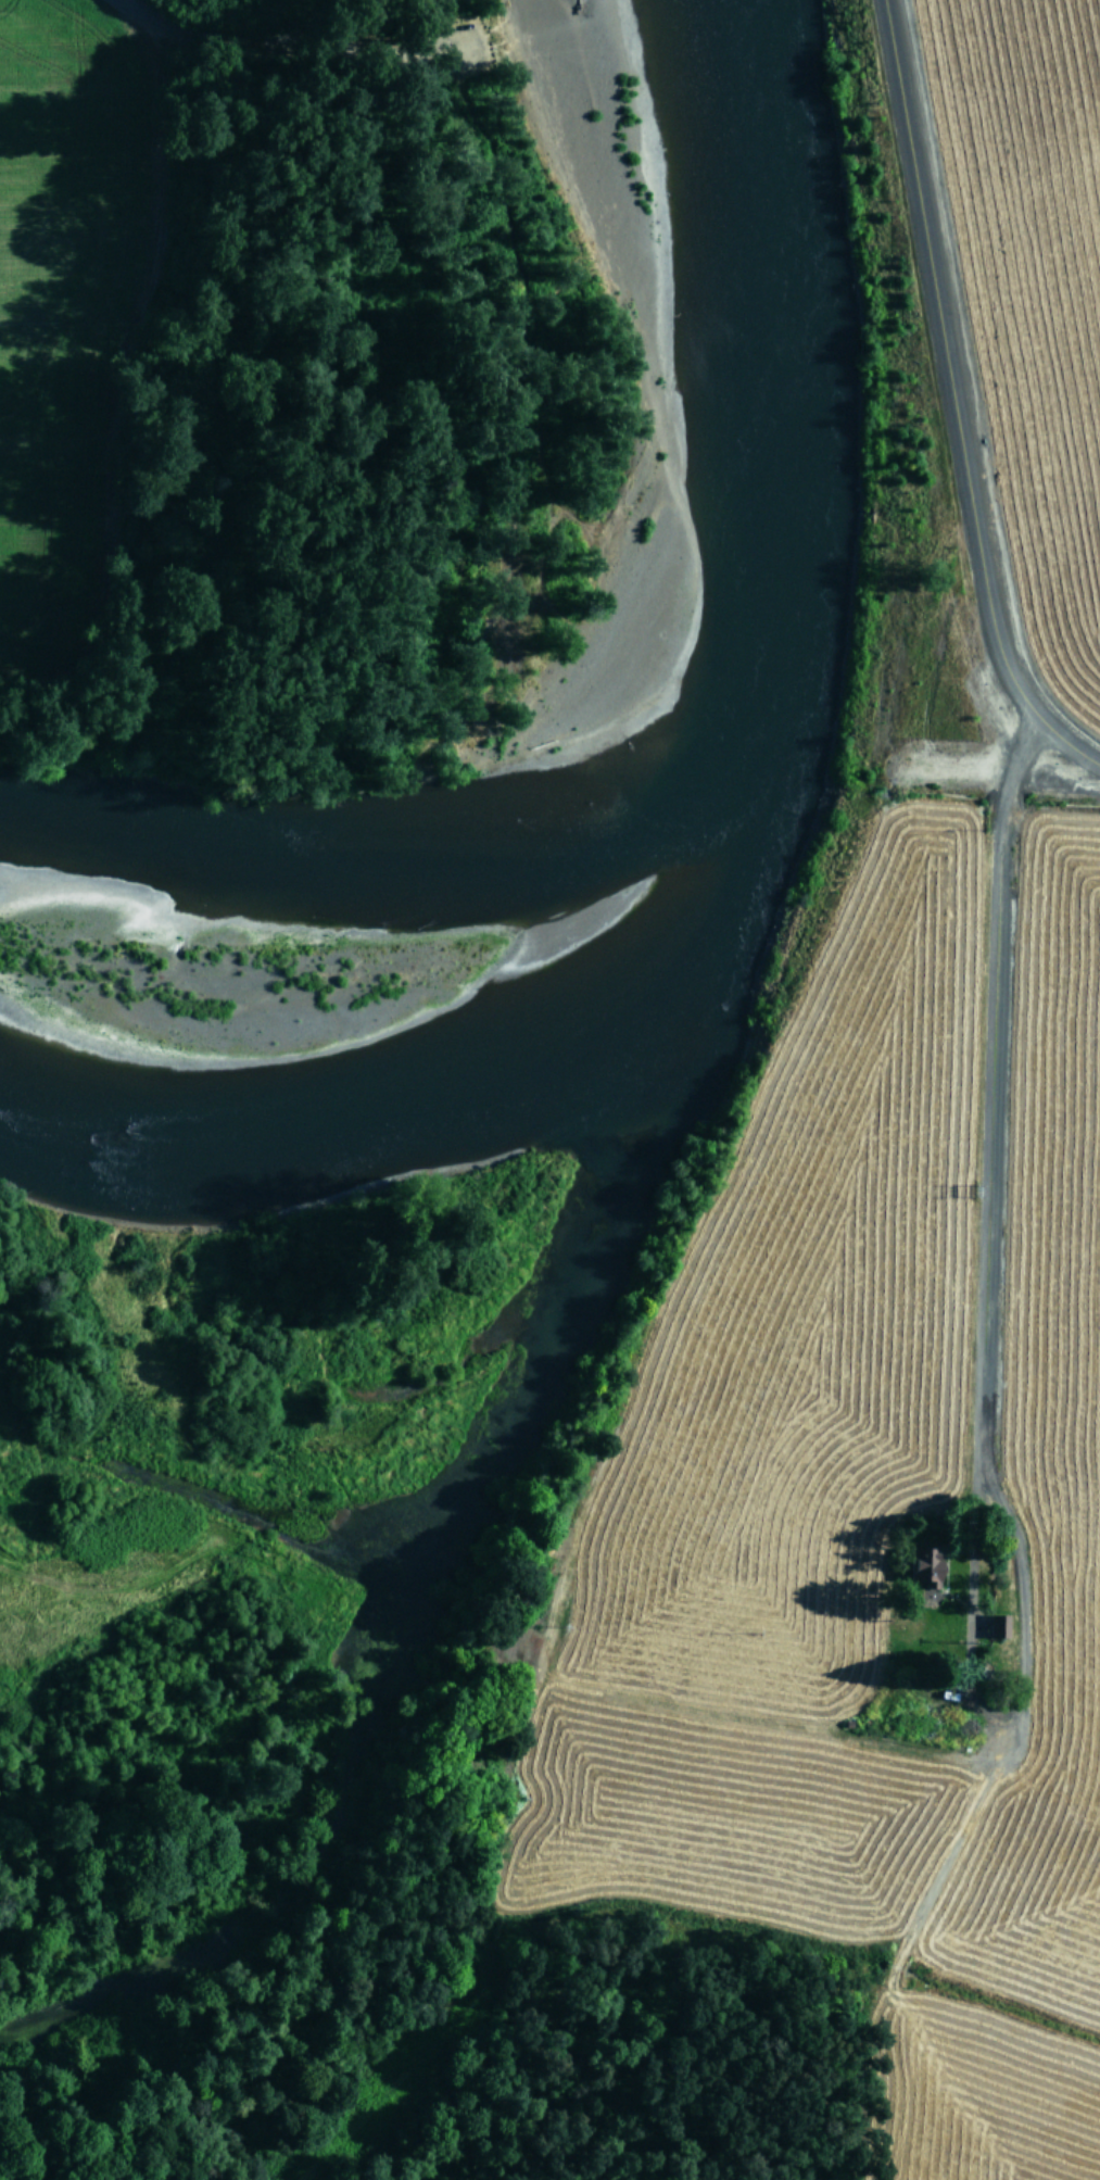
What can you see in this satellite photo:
road: (320, 40)
crop: (58, 229)
crop: (1025, 287)
road: (826, 478)
river: (687, 804)
road: (977, 1227)
crop: (868, 1522)
building: (999, 1625)

